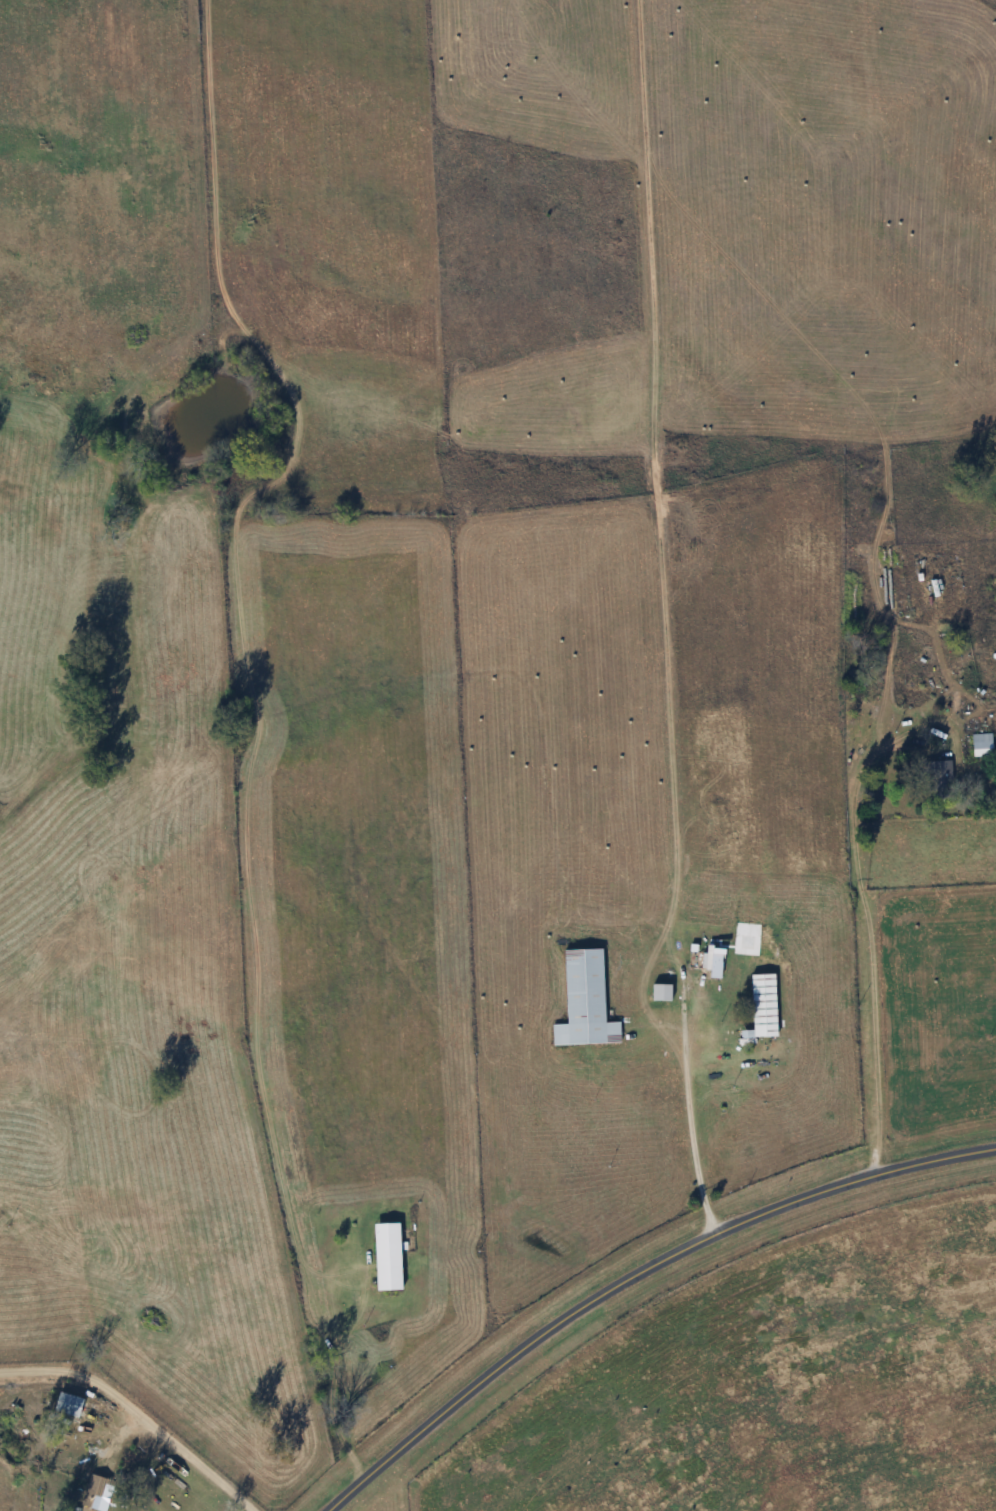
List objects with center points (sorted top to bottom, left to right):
building: (983, 745)
road: (169, 777)
building: (938, 780)
building: (587, 1002)
building: (764, 1008)
building: (390, 1258)
road: (636, 1276)
road: (55, 1377)
building: (70, 1405)
building: (253, 1448)
building: (98, 1492)

